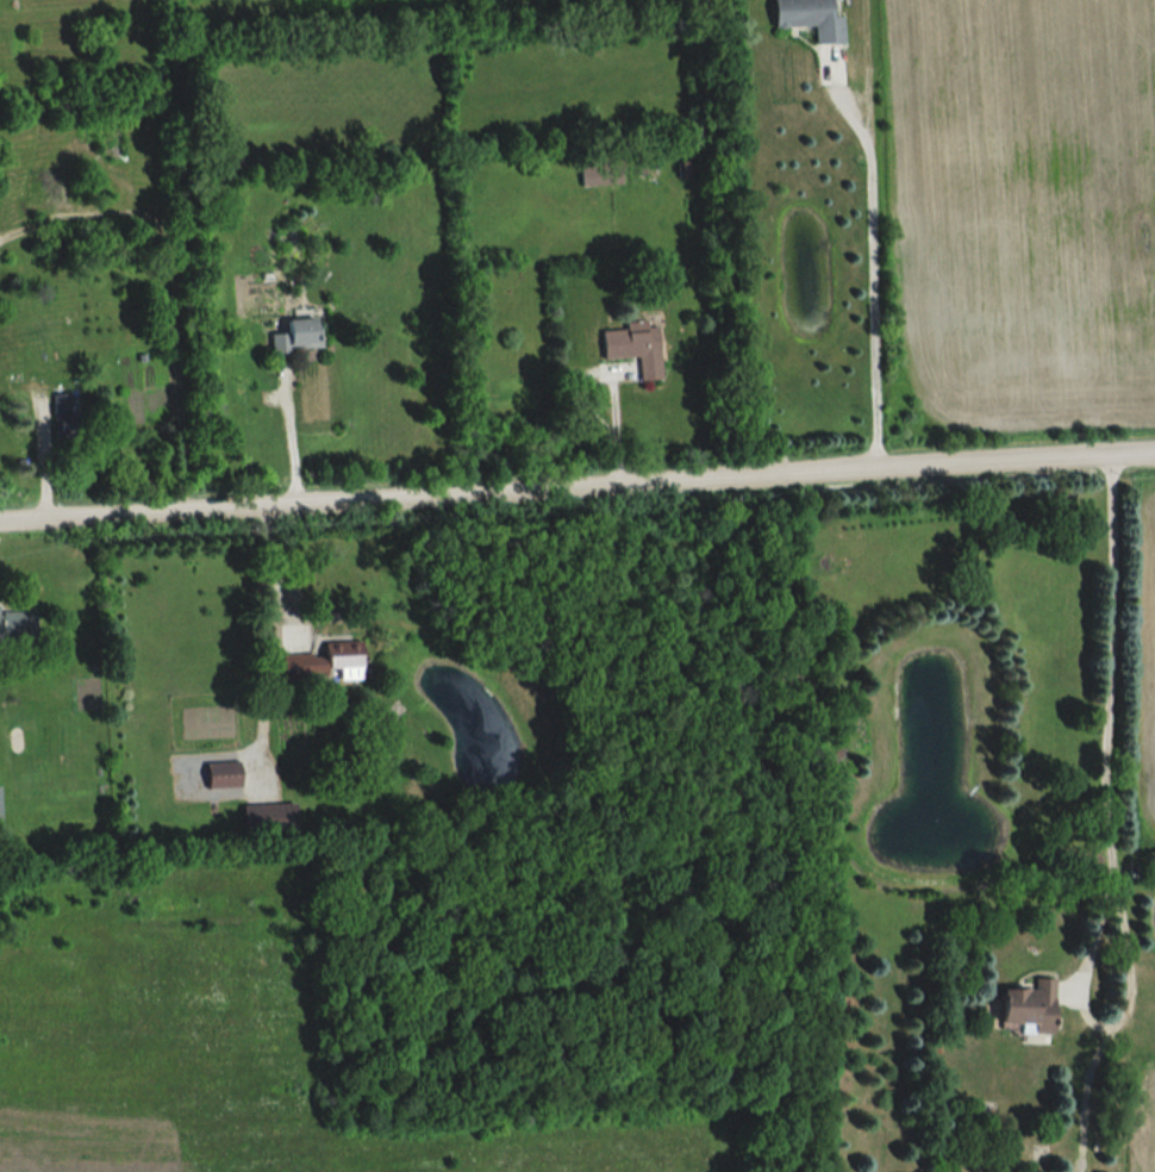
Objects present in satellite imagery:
building: (805, 18)
crop: (1020, 208)
road: (875, 262)
building: (299, 335)
building: (632, 350)
road: (576, 481)
road: (275, 571)
crop: (1142, 634)
building: (316, 660)
building: (221, 775)
building: (0, 803)
road: (1103, 808)
road: (1113, 916)
building: (1024, 1006)
crop: (1140, 1115)

